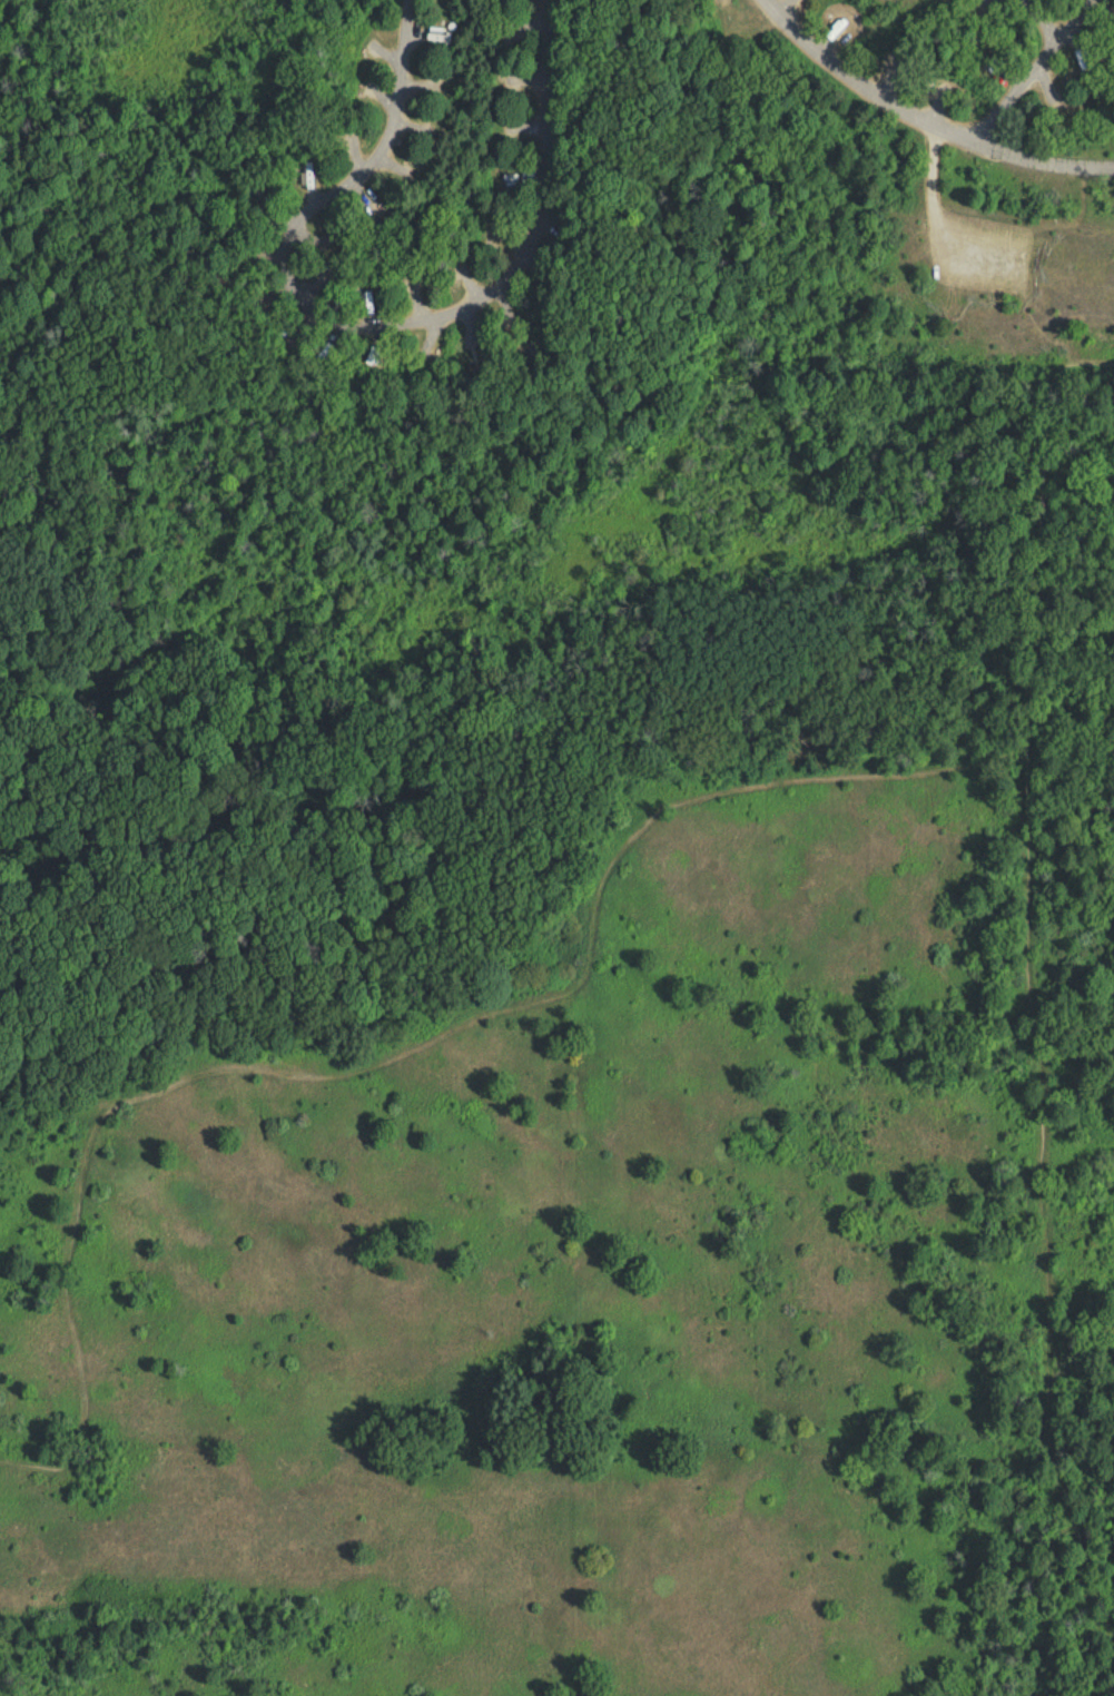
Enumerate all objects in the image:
road: (1043, 21)
building: (376, 50)
road: (1042, 72)
road: (914, 126)
road: (376, 326)
building: (479, 375)
park: (556, 848)

